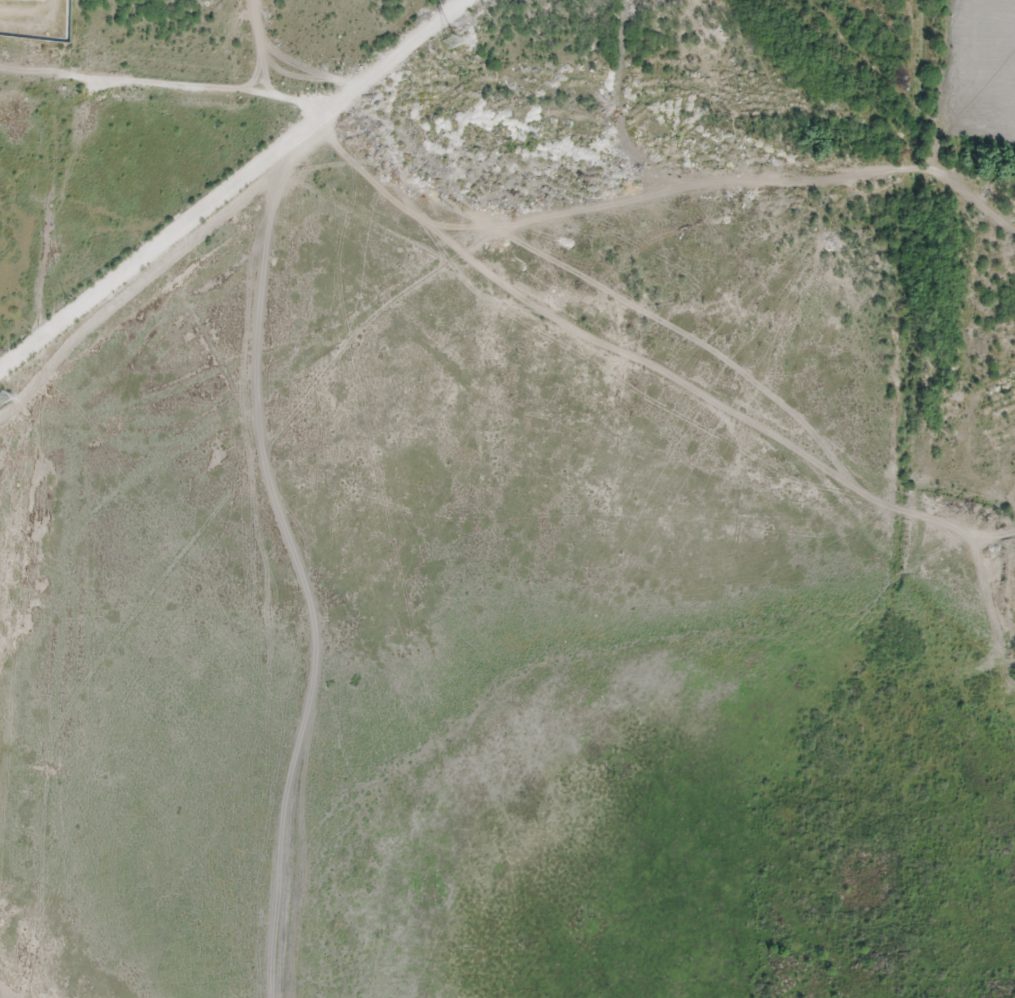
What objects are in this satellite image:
power tower: (451, 36)
power tower: (4, 392)

